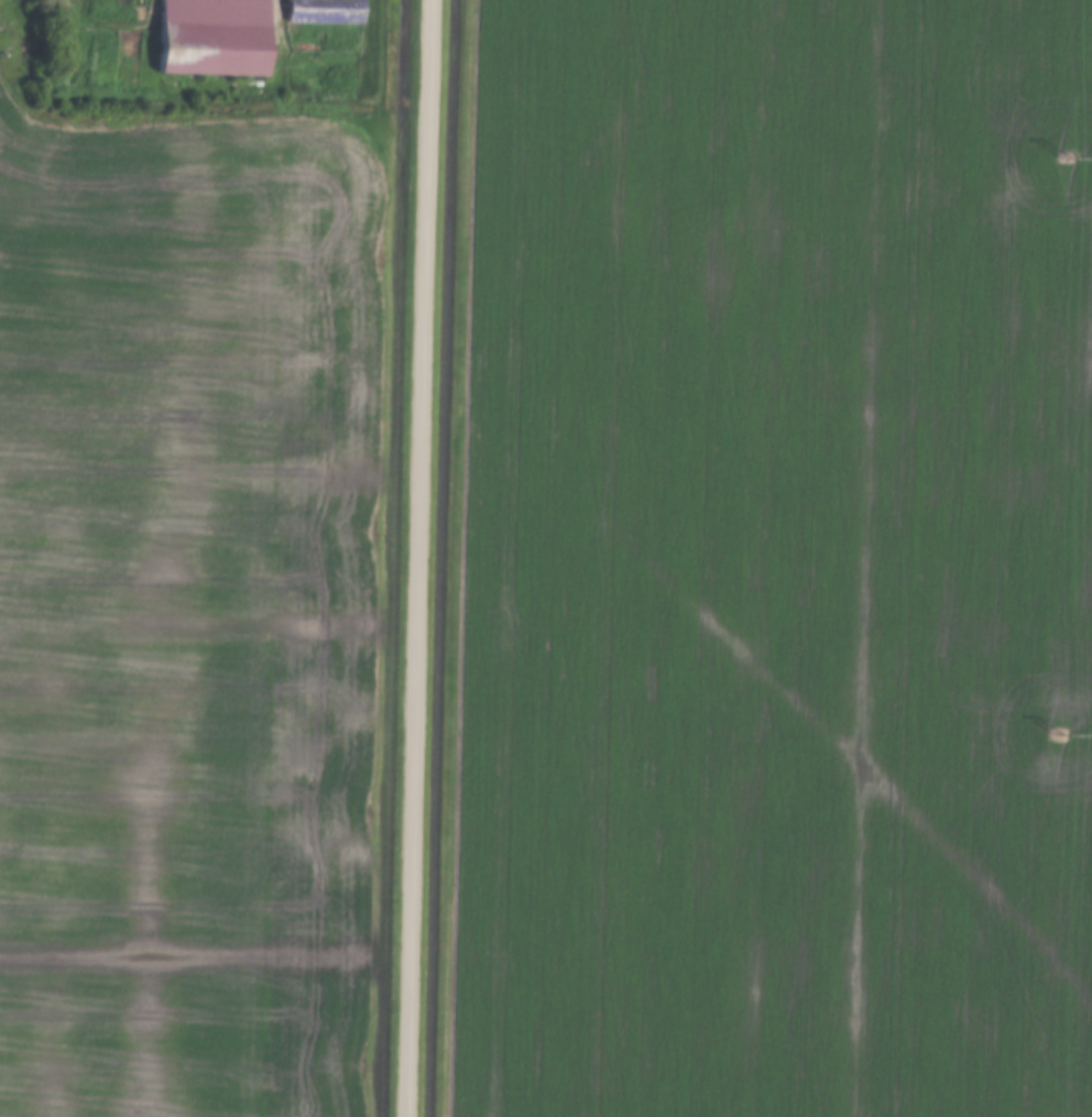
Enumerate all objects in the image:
building: (111, 9)
building: (318, 11)
building: (205, 36)
power tower: (1066, 162)
road: (414, 558)
crop: (774, 562)
crop: (185, 612)
power tower: (1056, 733)

